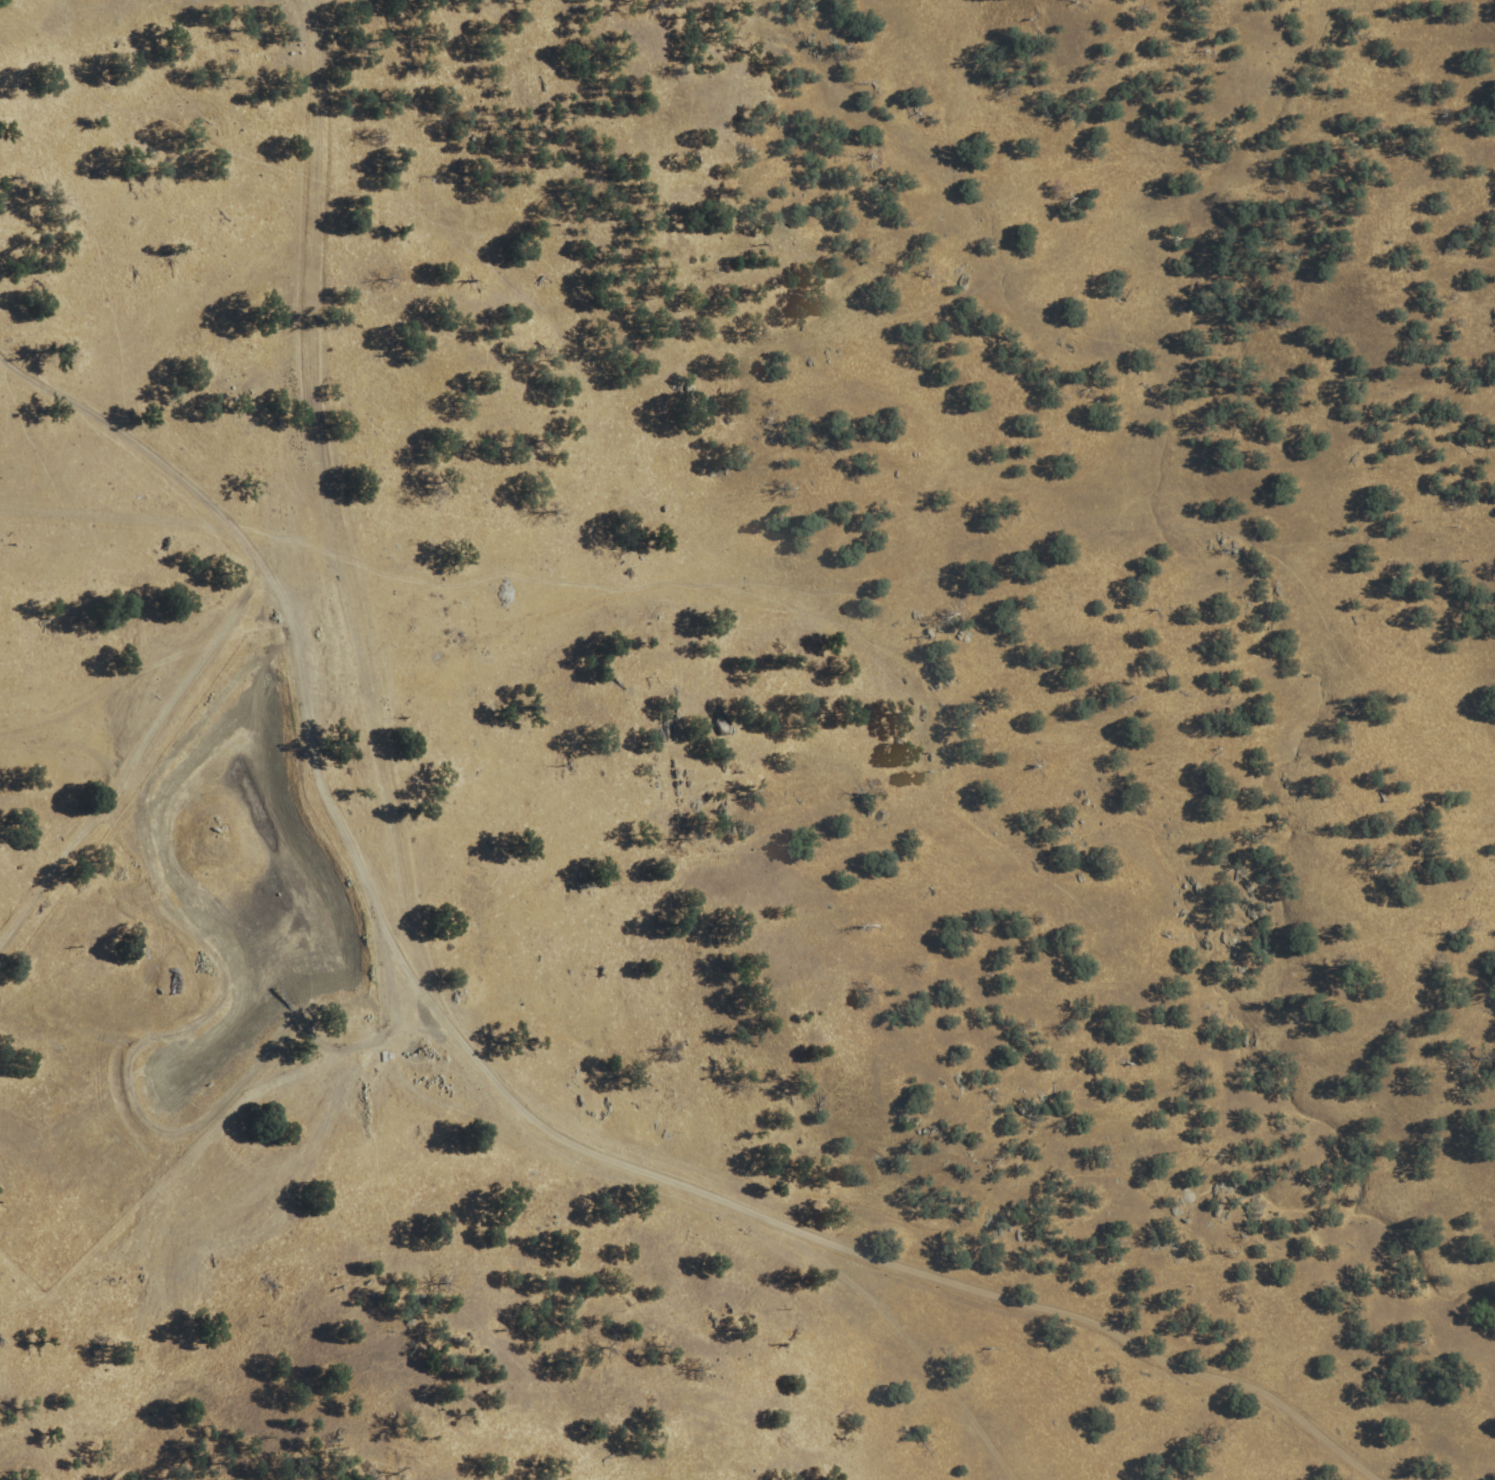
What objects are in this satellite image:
road: (150, 799)
road: (550, 1148)

